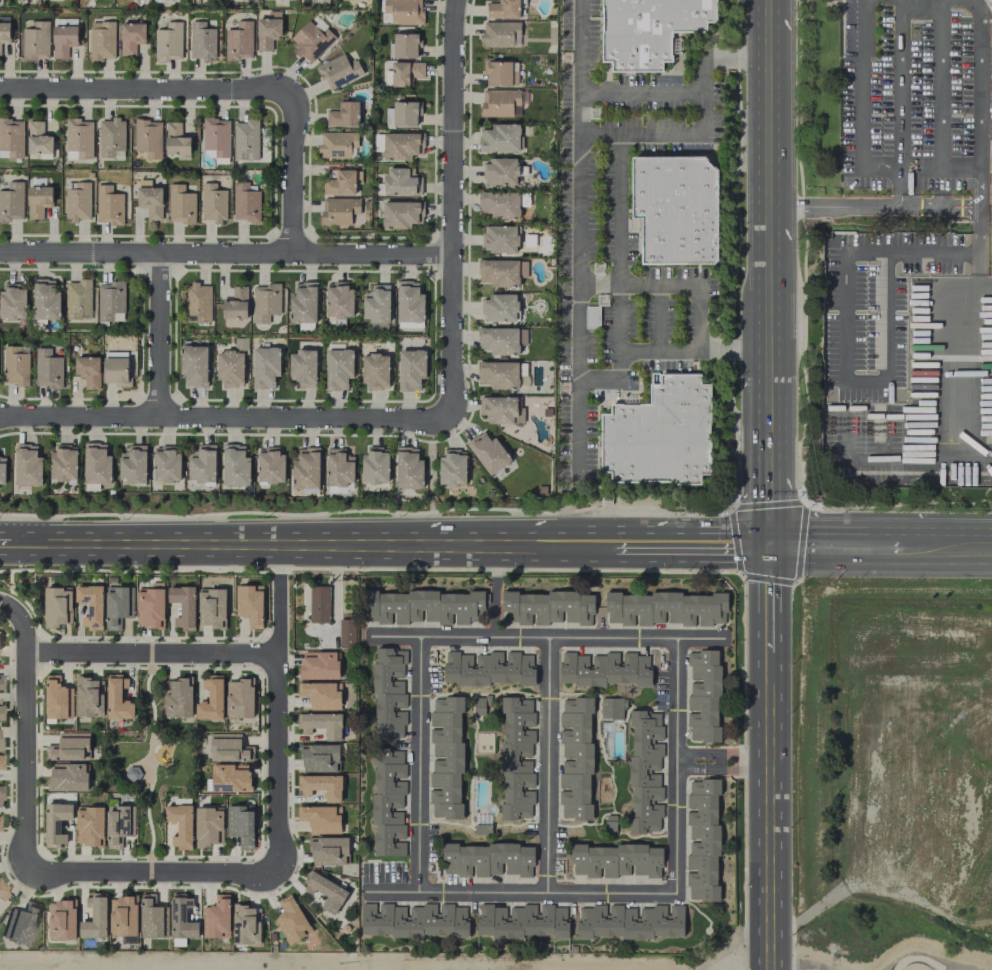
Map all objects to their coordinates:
building: (161, 0)
building: (503, 9)
building: (402, 11)
building: (4, 29)
building: (268, 30)
building: (647, 30)
building: (500, 34)
building: (63, 36)
building: (131, 37)
building: (101, 40)
building: (36, 41)
building: (201, 41)
building: (239, 41)
building: (168, 42)
building: (405, 45)
building: (0, 53)
road: (581, 67)
building: (338, 71)
building: (406, 72)
building: (497, 72)
road: (939, 82)
road: (979, 82)
road: (143, 90)
road: (641, 93)
building: (502, 102)
road: (861, 104)
building: (402, 113)
building: (343, 114)
road: (769, 114)
road: (453, 129)
building: (216, 136)
building: (79, 137)
building: (11, 138)
building: (38, 138)
building: (111, 138)
building: (148, 138)
building: (499, 138)
building: (176, 139)
building: (245, 140)
building: (338, 145)
building: (400, 145)
road: (960, 164)
road: (921, 165)
building: (500, 171)
road: (292, 174)
building: (991, 175)
building: (398, 181)
building: (341, 183)
road: (901, 185)
road: (980, 185)
building: (149, 199)
building: (38, 201)
building: (245, 201)
building: (12, 202)
building: (77, 202)
building: (212, 203)
building: (180, 204)
building: (499, 204)
building: (108, 205)
road: (940, 206)
road: (835, 207)
building: (675, 208)
building: (338, 210)
building: (399, 214)
building: (500, 238)
road: (578, 239)
road: (226, 254)
building: (502, 272)
road: (617, 284)
road: (597, 285)
road: (984, 285)
building: (79, 299)
building: (45, 300)
building: (110, 301)
building: (13, 302)
building: (198, 302)
building: (266, 302)
building: (338, 302)
building: (409, 302)
building: (236, 303)
building: (303, 303)
road: (769, 303)
building: (376, 304)
building: (500, 307)
road: (617, 318)
road: (658, 318)
road: (958, 319)
road: (159, 336)
road: (843, 336)
road: (453, 338)
building: (498, 340)
building: (15, 365)
building: (194, 365)
building: (231, 365)
building: (265, 367)
building: (338, 367)
building: (115, 368)
building: (302, 368)
building: (47, 369)
building: (411, 369)
building: (88, 371)
building: (375, 371)
road: (769, 407)
building: (499, 409)
road: (224, 418)
road: (576, 426)
building: (660, 434)
building: (488, 452)
road: (971, 456)
building: (64, 463)
building: (97, 464)
building: (133, 464)
building: (166, 464)
building: (202, 464)
building: (28, 465)
building: (375, 465)
building: (235, 466)
building: (270, 466)
building: (339, 467)
building: (306, 468)
building: (452, 468)
building: (409, 469)
building: (2, 472)
road: (769, 490)
road: (745, 506)
road: (264, 541)
road: (570, 541)
road: (638, 541)
road: (716, 542)
traffic signals: (769, 542)
road: (832, 543)
road: (944, 544)
road: (281, 558)
road: (769, 593)
building: (249, 604)
building: (319, 604)
building: (90, 606)
building: (116, 606)
building: (183, 606)
building: (150, 607)
building: (422, 607)
building: (212, 608)
building: (546, 608)
building: (666, 608)
road: (20, 622)
building: (346, 633)
road: (151, 651)
building: (318, 665)
building: (488, 668)
building: (606, 669)
building: (388, 693)
building: (319, 695)
building: (703, 695)
building: (87, 697)
building: (56, 698)
building: (178, 698)
building: (239, 698)
building: (117, 699)
building: (210, 699)
building: (611, 708)
building: (322, 724)
road: (279, 725)
building: (68, 746)
building: (227, 748)
building: (517, 756)
building: (319, 757)
building: (446, 758)
building: (575, 760)
road: (725, 761)
road: (22, 763)
road: (420, 763)
road: (548, 764)
road: (679, 764)
building: (645, 770)
building: (67, 777)
building: (229, 778)
building: (321, 786)
building: (388, 806)
road: (770, 807)
building: (319, 819)
building: (56, 823)
building: (116, 825)
building: (180, 825)
building: (208, 825)
building: (89, 826)
building: (241, 826)
building: (702, 838)
building: (328, 851)
building: (487, 860)
building: (615, 860)
road: (155, 873)
building: (325, 891)
building: (2, 893)
building: (123, 916)
building: (94, 917)
building: (215, 917)
building: (150, 918)
building: (182, 918)
building: (290, 919)
building: (61, 920)
building: (412, 920)
building: (521, 921)
building: (629, 922)
building: (20, 923)
building: (246, 925)
road: (906, 956)
road: (799, 967)

